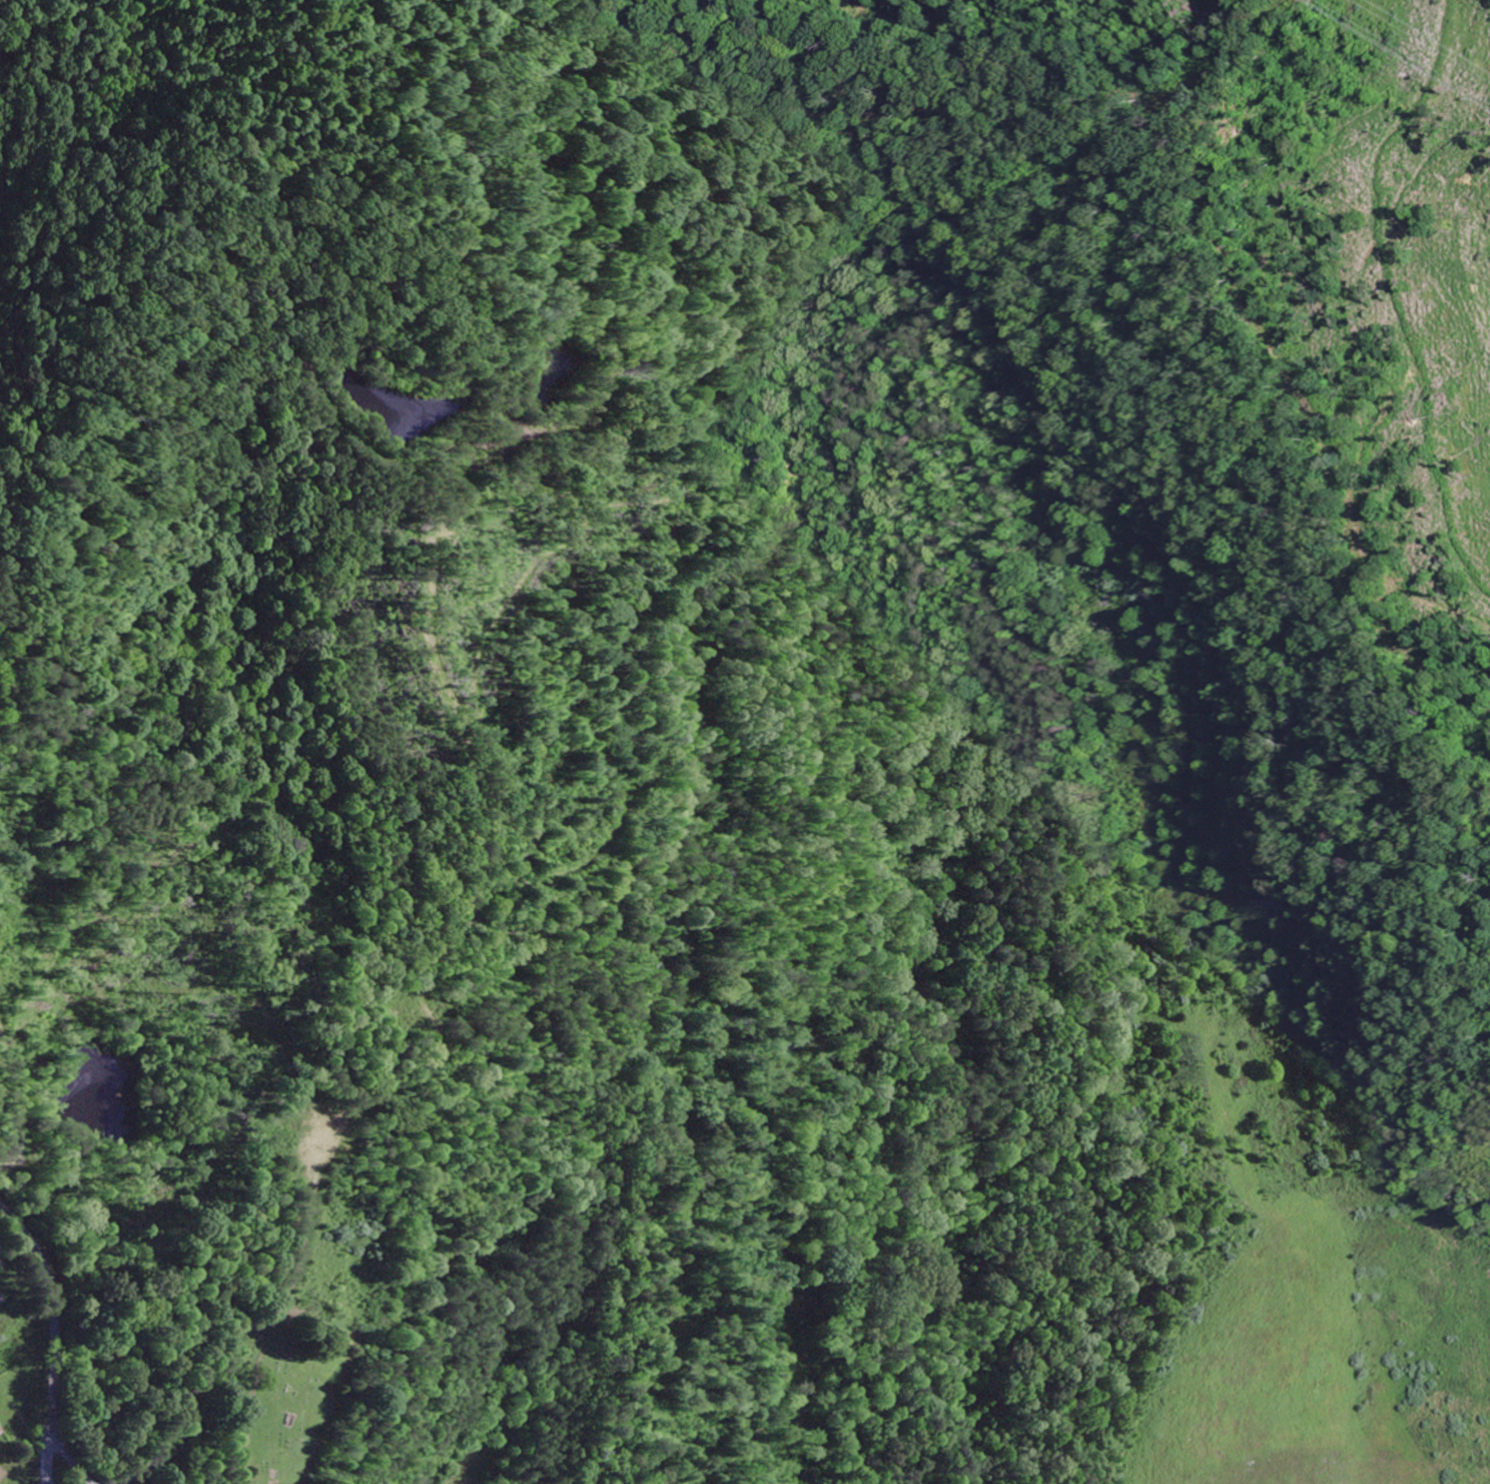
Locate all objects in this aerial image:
building: (2, 1297)
road: (59, 1336)
building: (2, 1429)

